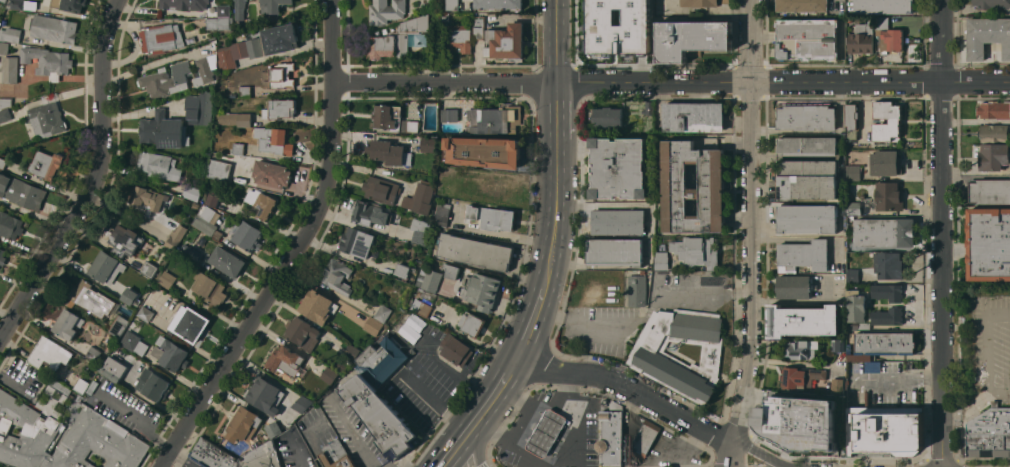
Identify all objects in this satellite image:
building: (3, 0)
building: (699, 3)
building: (16, 4)
building: (178, 4)
building: (499, 4)
building: (30, 5)
building: (67, 5)
building: (273, 5)
building: (452, 5)
building: (802, 5)
building: (994, 5)
building: (883, 6)
building: (0, 7)
building: (606, 7)
building: (239, 9)
building: (211, 10)
building: (386, 11)
building: (446, 16)
building: (615, 21)
building: (0, 22)
building: (219, 23)
building: (478, 27)
building: (54, 28)
building: (649, 28)
building: (10, 34)
building: (889, 36)
building: (987, 36)
building: (160, 38)
building: (458, 38)
building: (862, 38)
building: (190, 39)
building: (279, 39)
building: (396, 39)
building: (690, 39)
building: (807, 39)
building: (505, 42)
road: (553, 42)
building: (4, 47)
building: (611, 48)
building: (239, 52)
building: (47, 60)
building: (10, 69)
building: (203, 71)
building: (281, 75)
road: (670, 81)
building: (161, 83)
building: (244, 88)
building: (6, 101)
building: (648, 107)
building: (199, 108)
building: (282, 108)
building: (994, 109)
road: (554, 111)
building: (5, 115)
building: (450, 115)
building: (608, 116)
building: (388, 117)
building: (693, 117)
building: (807, 117)
building: (47, 119)
building: (235, 119)
building: (494, 119)
building: (852, 121)
building: (894, 122)
building: (414, 126)
building: (162, 130)
building: (994, 133)
building: (274, 140)
building: (428, 144)
building: (238, 148)
building: (484, 151)
building: (389, 153)
building: (993, 156)
building: (245, 159)
building: (2, 162)
building: (886, 162)
building: (46, 164)
building: (157, 165)
building: (619, 168)
building: (807, 168)
building: (219, 169)
building: (444, 171)
building: (272, 173)
building: (853, 173)
road: (90, 180)
building: (498, 187)
building: (692, 188)
building: (380, 189)
building: (989, 191)
building: (21, 192)
building: (192, 193)
building: (889, 197)
building: (212, 198)
building: (420, 199)
building: (147, 200)
building: (262, 202)
building: (195, 205)
building: (854, 208)
building: (207, 212)
building: (370, 213)
building: (442, 214)
road: (554, 214)
building: (492, 217)
building: (395, 218)
building: (807, 218)
building: (618, 221)
road: (751, 221)
building: (10, 225)
building: (204, 225)
building: (420, 231)
building: (885, 232)
road: (503, 233)
road: (940, 233)
building: (248, 236)
building: (176, 237)
road: (780, 239)
building: (124, 240)
building: (201, 241)
building: (357, 242)
building: (989, 244)
road: (295, 248)
building: (475, 251)
building: (698, 251)
building: (615, 252)
building: (191, 253)
building: (805, 254)
building: (2, 256)
building: (662, 260)
building: (230, 263)
building: (889, 265)
building: (106, 267)
building: (149, 268)
building: (402, 269)
building: (451, 271)
building: (338, 275)
building: (853, 275)
building: (167, 279)
building: (429, 279)
building: (361, 280)
building: (795, 286)
building: (210, 288)
building: (638, 289)
building: (482, 291)
building: (888, 292)
road: (703, 293)
building: (130, 296)
building: (92, 299)
building: (152, 302)
building: (316, 306)
building: (457, 306)
road: (651, 306)
building: (856, 306)
building: (1004, 308)
building: (424, 309)
building: (145, 313)
building: (383, 313)
building: (888, 316)
building: (804, 320)
building: (188, 323)
building: (67, 324)
building: (472, 324)
building: (118, 325)
building: (373, 325)
road: (590, 325)
building: (864, 325)
building: (301, 331)
parking lot: (990, 341)
building: (134, 342)
building: (839, 345)
building: (881, 347)
building: (456, 349)
building: (801, 349)
road: (986, 351)
building: (351, 352)
building: (411, 352)
building: (49, 353)
building: (93, 353)
building: (173, 354)
building: (654, 359)
building: (285, 360)
building: (382, 361)
road: (513, 363)
building: (341, 365)
road: (452, 365)
building: (113, 369)
building: (817, 373)
building: (329, 375)
building: (794, 378)
road: (887, 379)
parking lot: (425, 381)
building: (839, 384)
building: (81, 385)
building: (153, 385)
building: (92, 386)
road: (628, 386)
building: (50, 390)
building: (264, 393)
building: (593, 394)
building: (302, 403)
road: (437, 403)
road: (966, 406)
building: (380, 416)
road: (140, 417)
building: (800, 420)
building: (244, 424)
building: (96, 428)
building: (274, 429)
building: (884, 431)
building: (546, 432)
building: (989, 434)
building: (611, 438)
building: (645, 439)
road: (455, 449)
road: (474, 449)
road: (730, 453)
road: (758, 454)
building: (211, 455)
building: (336, 455)
building: (262, 456)

